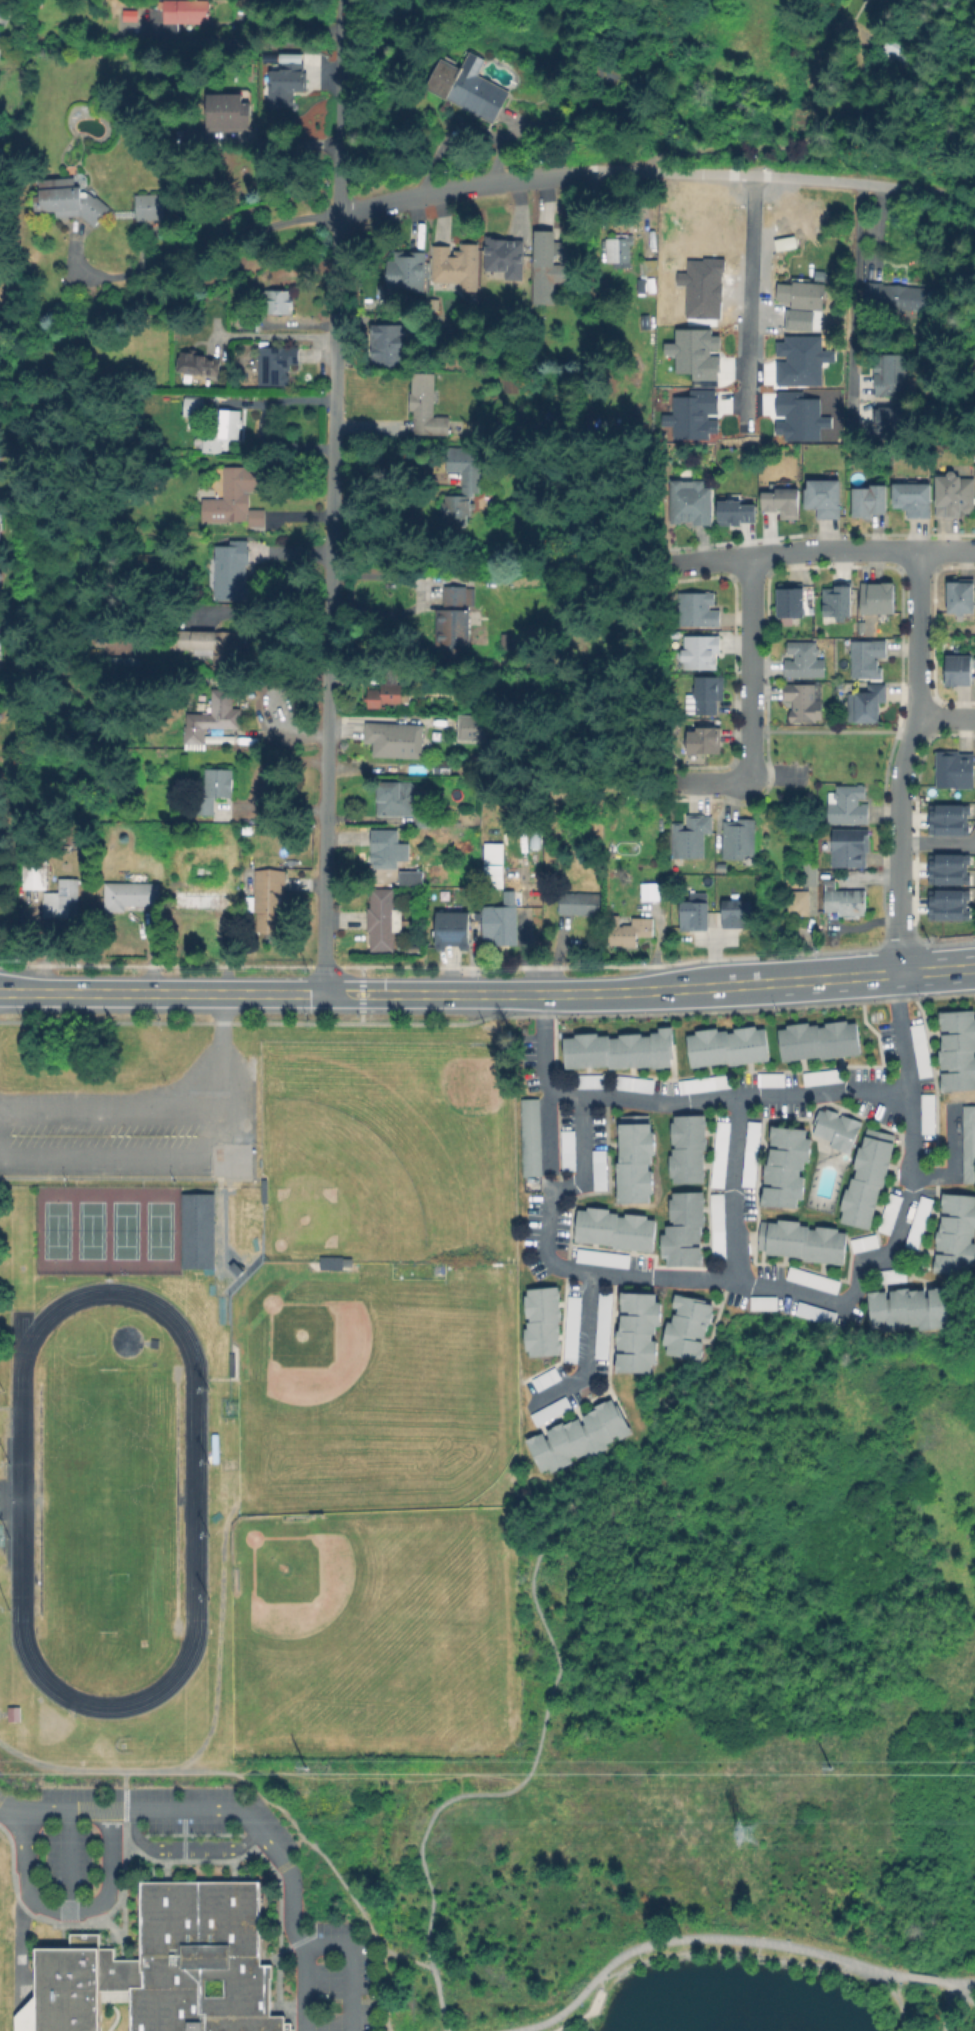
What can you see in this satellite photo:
building: (883, 0)
building: (184, 14)
building: (891, 54)
building: (610, 74)
building: (469, 88)
building: (288, 89)
building: (231, 115)
road: (490, 185)
building: (67, 199)
building: (148, 206)
building: (783, 242)
building: (620, 251)
building: (506, 257)
building: (457, 265)
building: (548, 265)
building: (649, 266)
building: (404, 271)
building: (801, 293)
building: (900, 294)
road: (753, 296)
road: (853, 300)
building: (282, 301)
road: (277, 335)
building: (386, 344)
railway: (15, 348)
building: (200, 364)
building: (276, 364)
building: (891, 374)
building: (426, 405)
building: (192, 408)
building: (229, 422)
building: (888, 424)
building: (0, 456)
building: (463, 483)
building: (956, 494)
road: (332, 497)
building: (237, 498)
building: (824, 498)
building: (911, 499)
building: (871, 501)
building: (693, 503)
building: (783, 503)
building: (736, 513)
road: (820, 549)
building: (235, 569)
building: (1, 576)
road: (430, 595)
building: (962, 596)
building: (881, 598)
building: (791, 600)
building: (837, 602)
building: (698, 610)
building: (455, 621)
road: (266, 624)
building: (513, 641)
building: (209, 642)
building: (701, 652)
building: (866, 659)
building: (804, 661)
building: (117, 666)
road: (752, 669)
building: (959, 670)
building: (384, 695)
building: (708, 695)
building: (803, 702)
building: (867, 704)
building: (0, 715)
building: (214, 717)
road: (946, 717)
building: (475, 728)
building: (396, 740)
building: (703, 742)
road: (909, 762)
building: (442, 767)
building: (954, 770)
building: (0, 773)
road: (708, 784)
road: (254, 788)
building: (217, 789)
building: (398, 799)
building: (848, 806)
building: (946, 818)
building: (157, 832)
building: (692, 839)
building: (739, 840)
road: (937, 842)
building: (388, 847)
building: (850, 848)
building: (161, 858)
building: (493, 860)
building: (721, 868)
building: (946, 868)
building: (807, 873)
building: (36, 876)
building: (409, 878)
building: (649, 892)
building: (131, 894)
building: (271, 898)
building: (63, 899)
building: (204, 899)
building: (844, 900)
building: (805, 902)
building: (580, 904)
building: (945, 904)
building: (693, 913)
building: (733, 913)
building: (383, 920)
building: (498, 929)
building: (630, 931)
building: (454, 933)
road: (936, 971)
road: (768, 983)
road: (319, 994)
building: (817, 1040)
building: (725, 1046)
building: (618, 1049)
building: (956, 1049)
building: (918, 1050)
building: (821, 1076)
building: (768, 1079)
building: (588, 1080)
building: (630, 1082)
building: (702, 1083)
road: (659, 1099)
road: (119, 1107)
road: (738, 1113)
building: (925, 1113)
building: (834, 1128)
building: (876, 1134)
building: (528, 1136)
park: (389, 1144)
building: (967, 1144)
road: (580, 1148)
building: (685, 1148)
building: (565, 1150)
building: (749, 1153)
building: (718, 1154)
road: (203, 1158)
building: (633, 1159)
building: (784, 1165)
building: (597, 1169)
building: (864, 1181)
building: (887, 1213)
building: (916, 1221)
building: (715, 1225)
park: (106, 1226)
building: (613, 1228)
building: (682, 1228)
building: (195, 1229)
building: (954, 1233)
building: (800, 1240)
building: (862, 1242)
road: (879, 1255)
building: (600, 1257)
building: (334, 1262)
building: (890, 1274)
building: (810, 1279)
building: (761, 1302)
building: (906, 1307)
building: (813, 1312)
building: (540, 1320)
building: (601, 1324)
building: (685, 1326)
building: (570, 1328)
building: (636, 1332)
road: (582, 1352)
building: (544, 1378)
park: (385, 1402)
building: (549, 1410)
building: (576, 1436)
track: (196, 1497)
park: (106, 1499)
park: (329, 1609)
park: (733, 1734)
road: (536, 1744)
power tower: (829, 1765)
power tower: (314, 1766)
road: (87, 1769)
road: (123, 1787)
road: (256, 1828)
power tower: (744, 1833)
road: (301, 1834)
road: (183, 1847)
road: (64, 1858)
road: (67, 1908)
road: (679, 1939)
road: (408, 1959)
building: (163, 1966)
road: (917, 1977)
road: (300, 1986)
road: (383, 1991)
road: (890, 1993)
road: (948, 2006)

